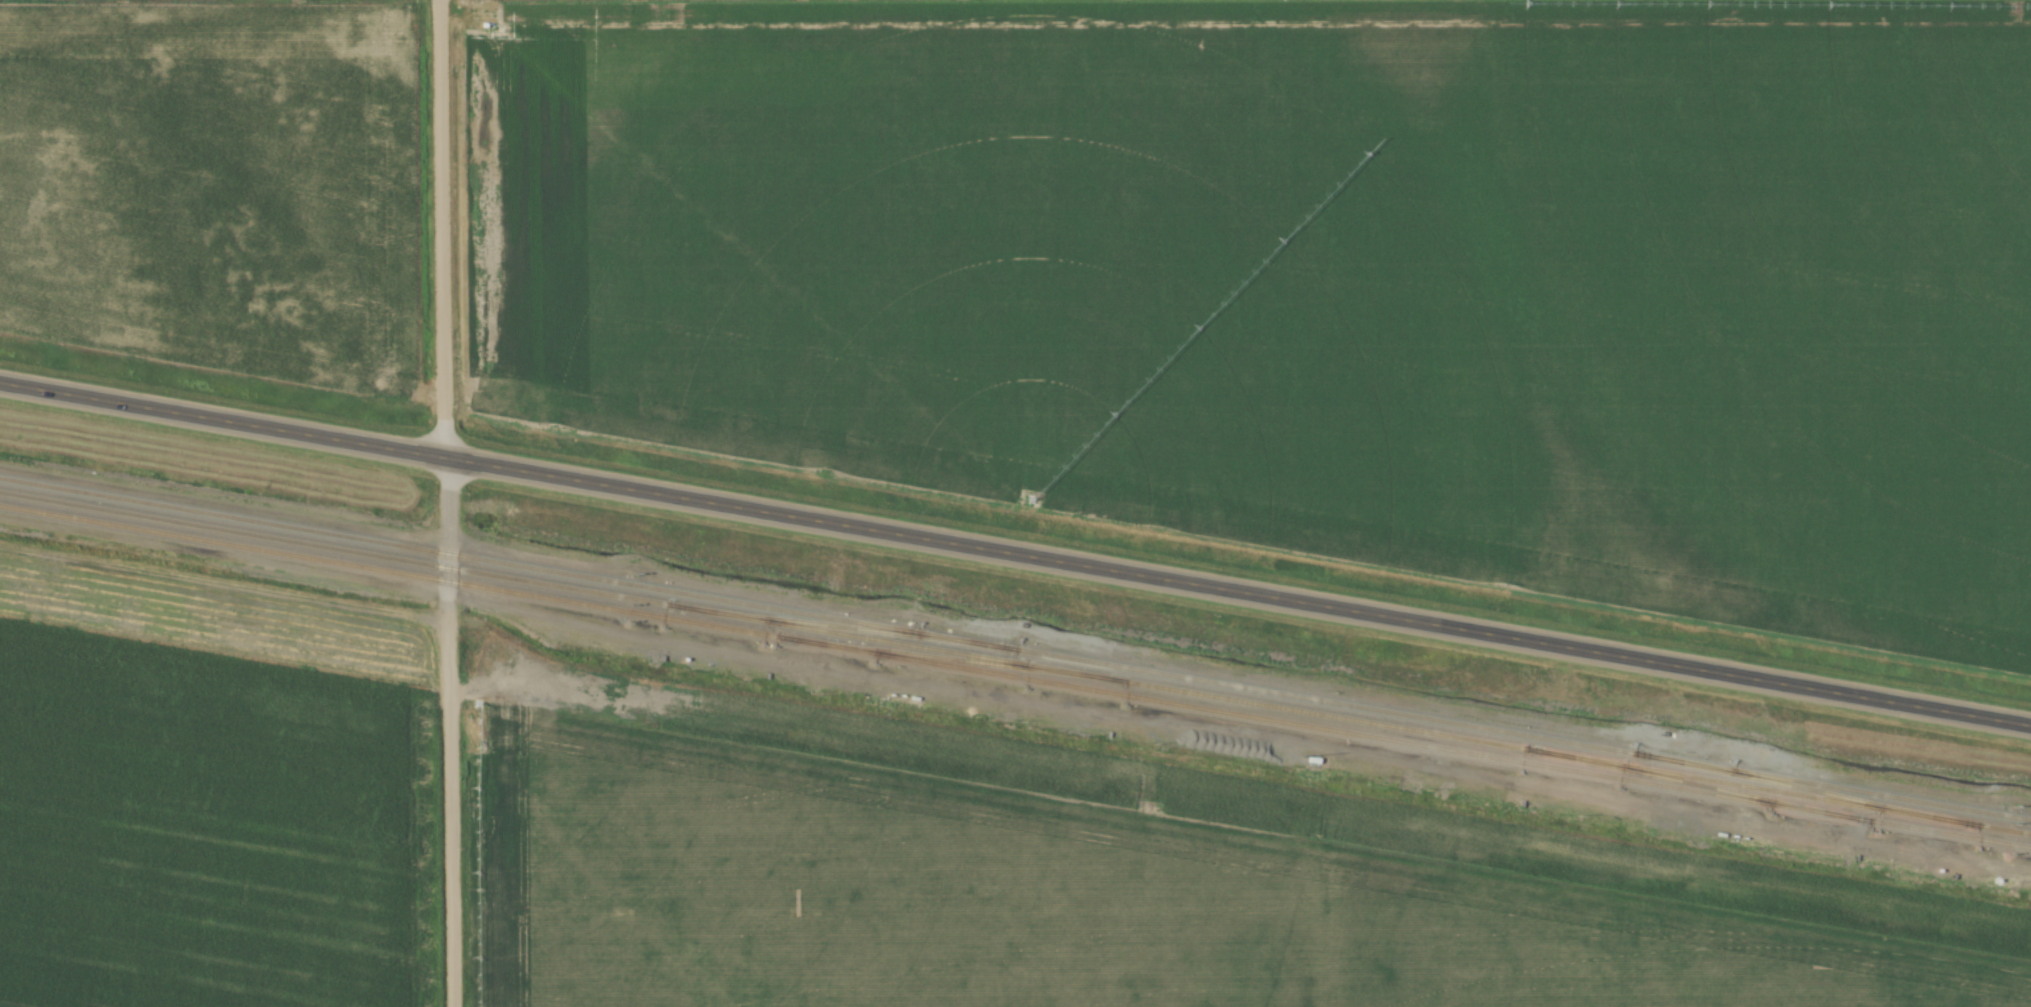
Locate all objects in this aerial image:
crop: (215, 184)
crop: (1314, 286)
road: (444, 503)
road: (1015, 554)
railway: (843, 627)
railway: (1015, 649)
railway: (945, 658)
railway: (1015, 663)
railway: (1015, 676)
building: (1314, 760)
railway: (1701, 785)
railway: (1806, 790)

